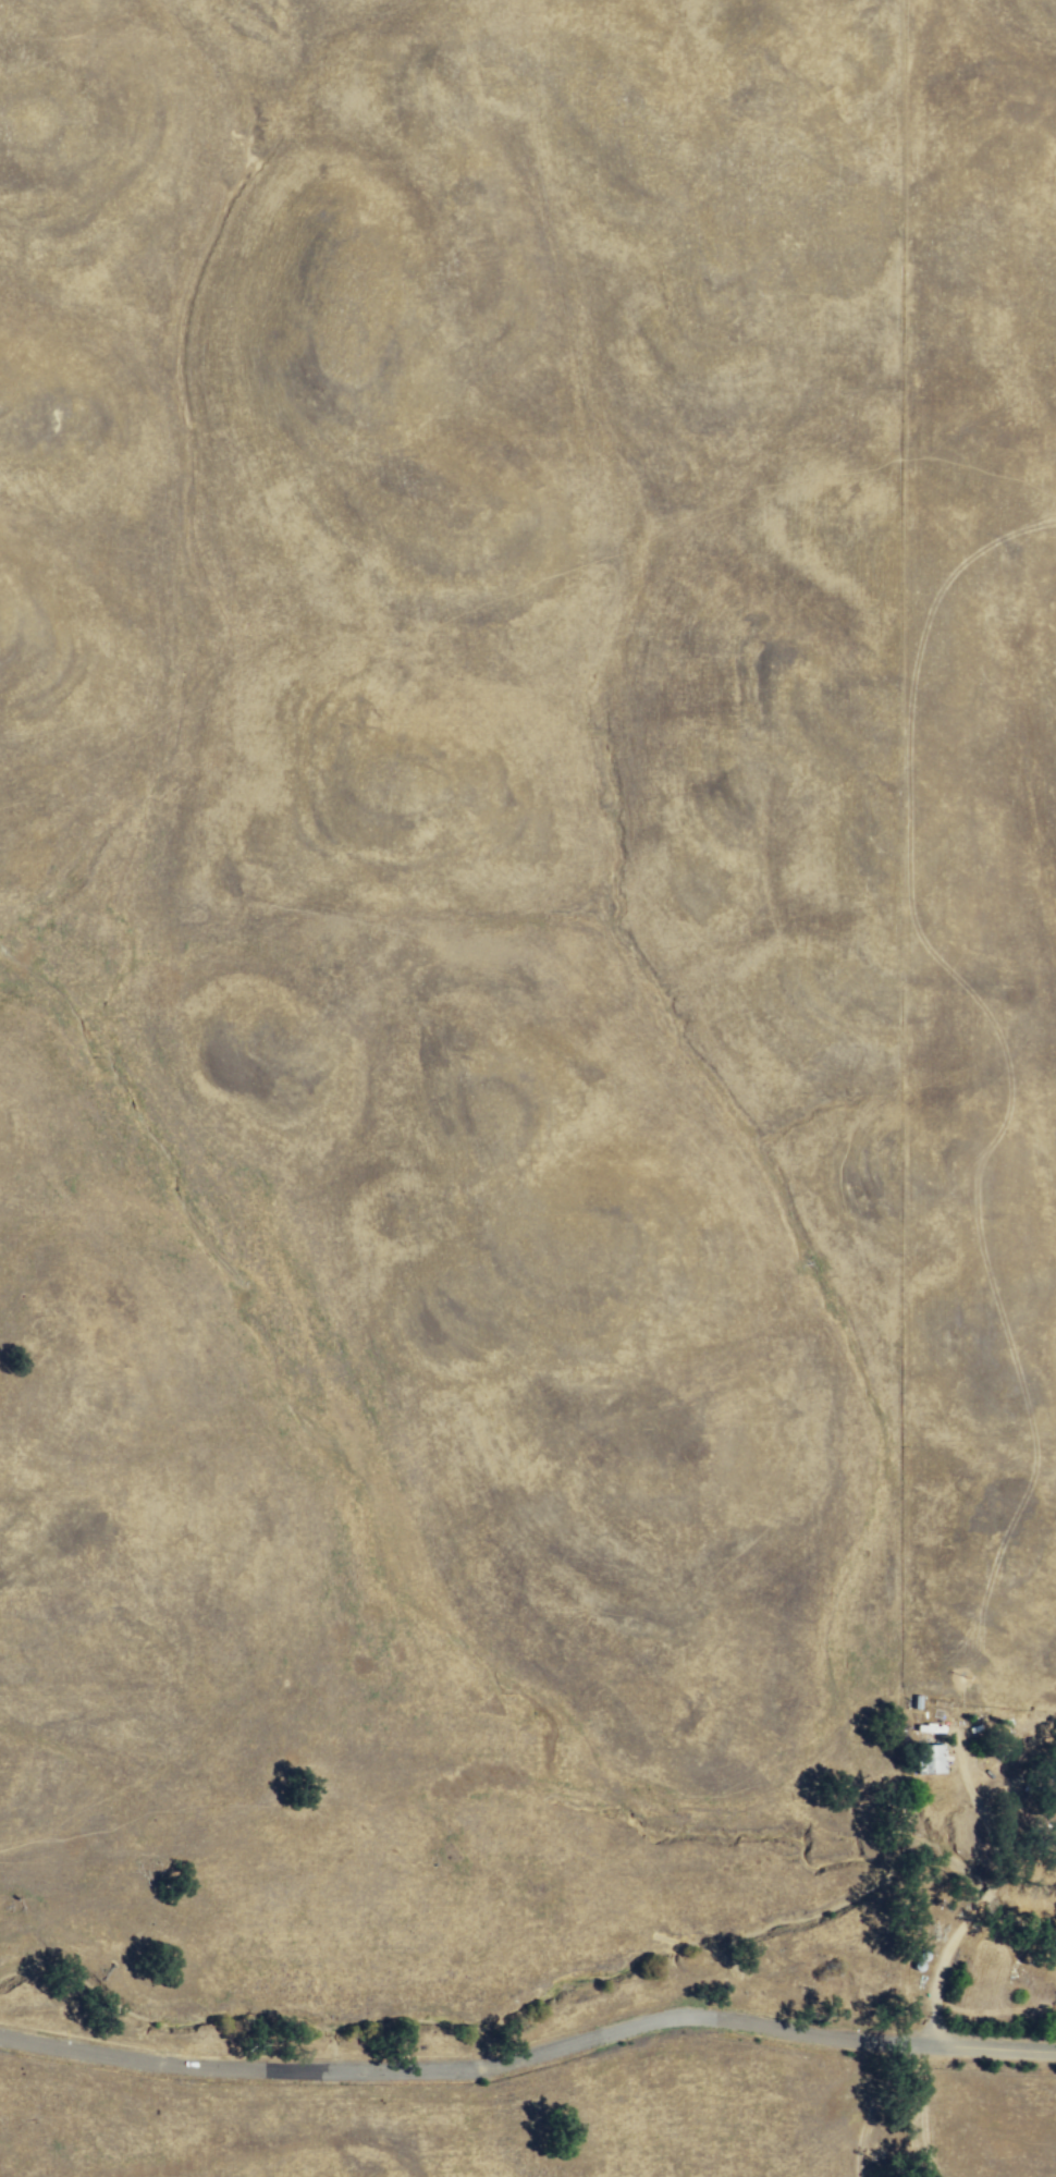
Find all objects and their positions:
building: (931, 1759)
road: (530, 2056)

